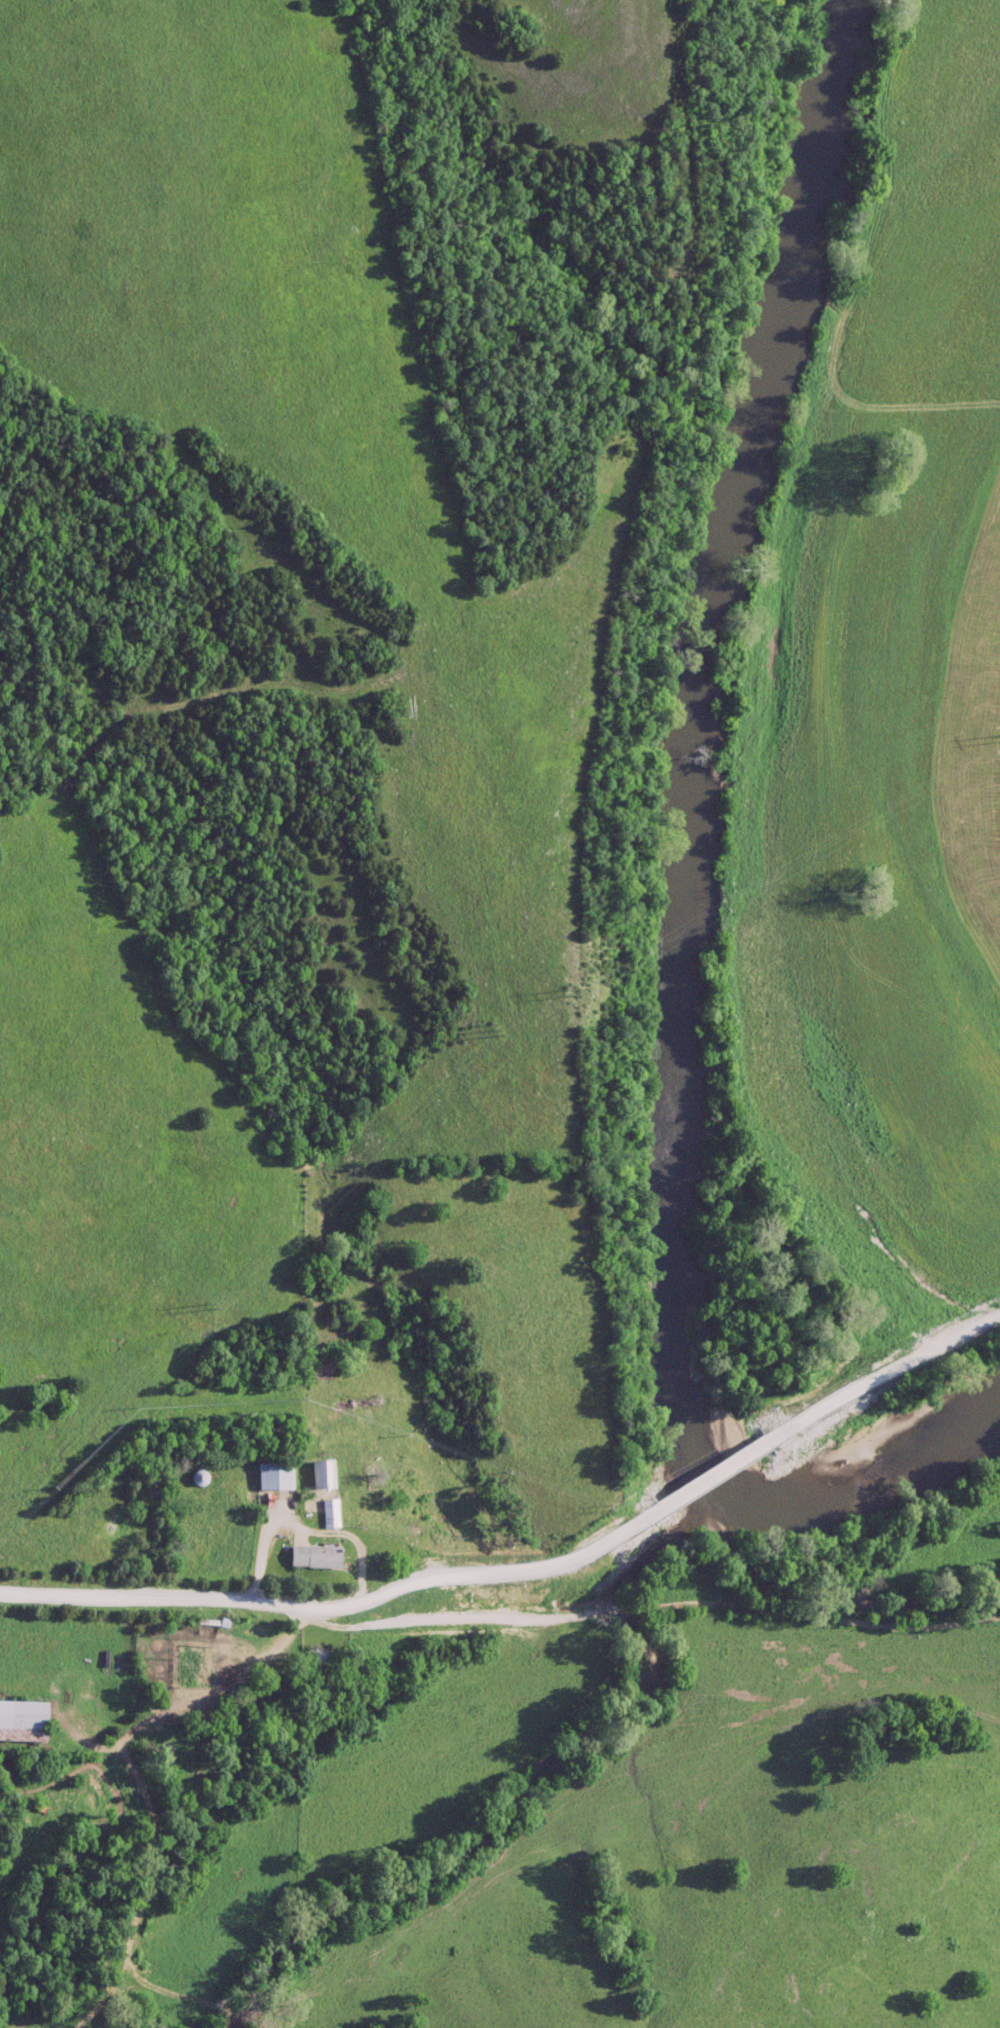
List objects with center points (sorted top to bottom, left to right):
river: (679, 904)
road: (868, 1388)
road: (697, 1473)
building: (321, 1477)
building: (274, 1478)
building: (198, 1480)
building: (329, 1514)
building: (312, 1559)
road: (269, 1564)
road: (358, 1623)
building: (189, 1664)
road: (204, 1717)
building: (21, 1721)

